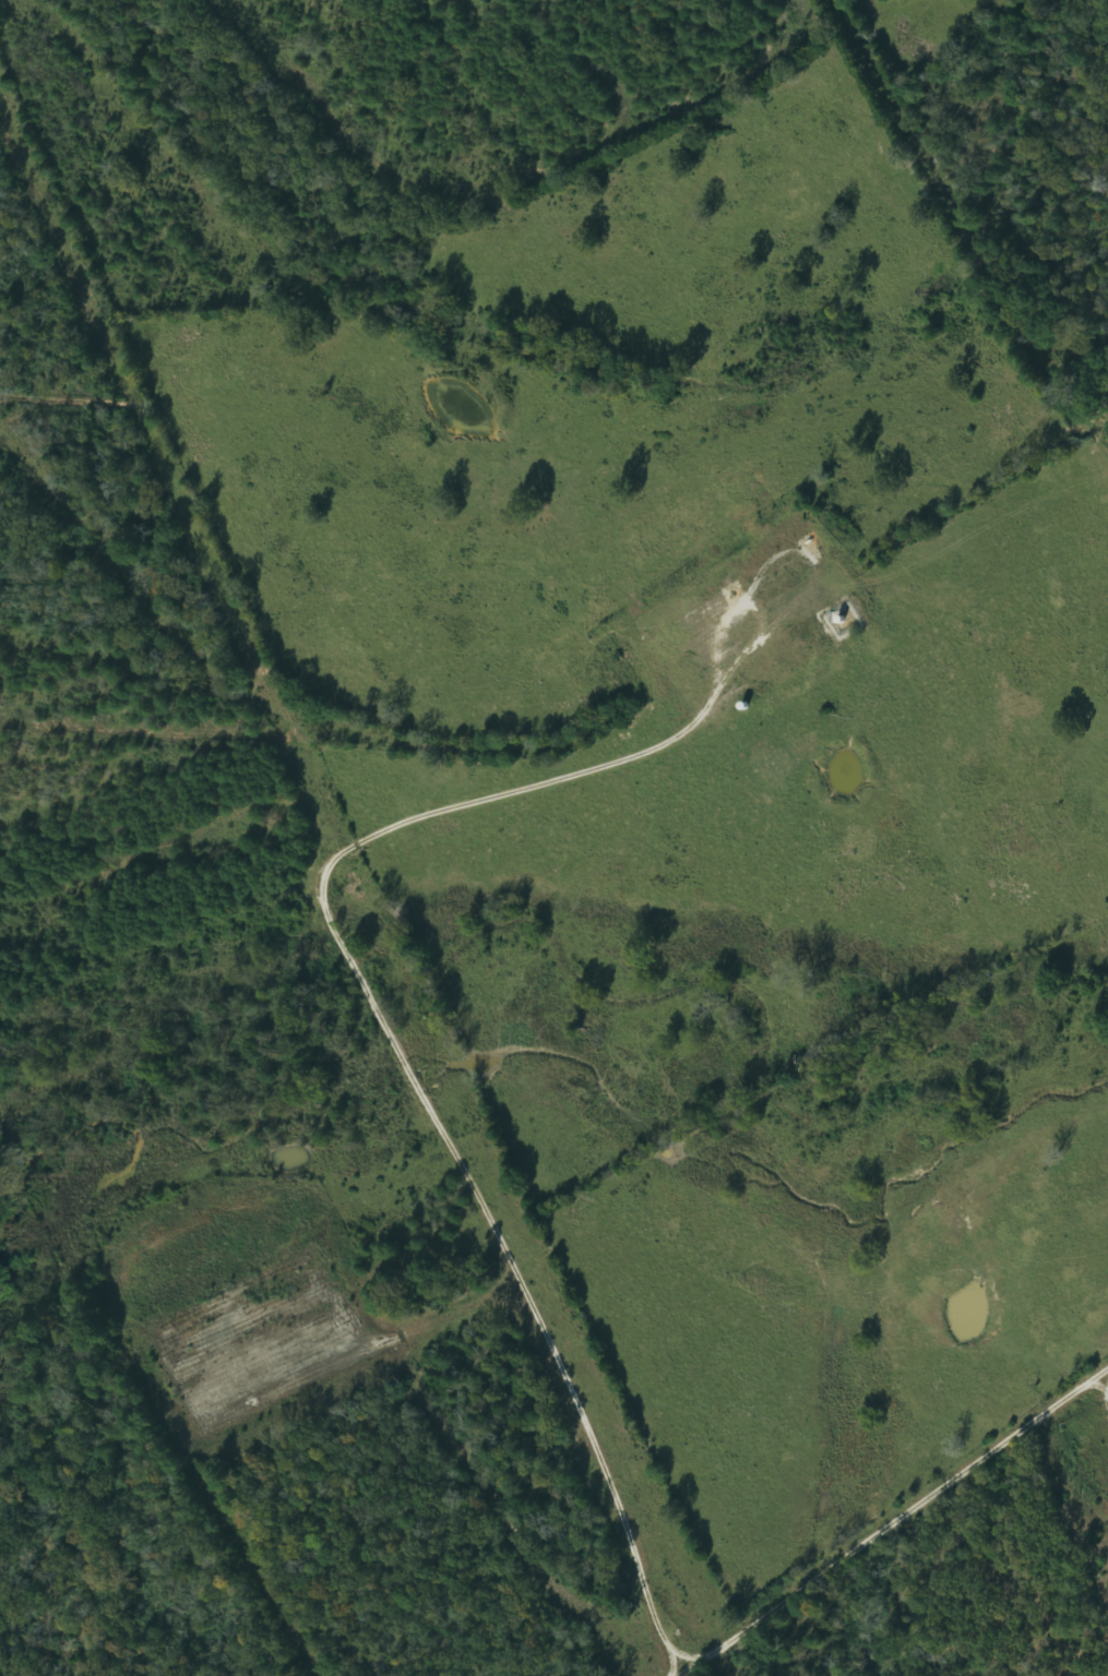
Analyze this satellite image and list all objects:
road: (1, 3)
road: (383, 849)
road: (181, 1378)
road: (934, 1556)

